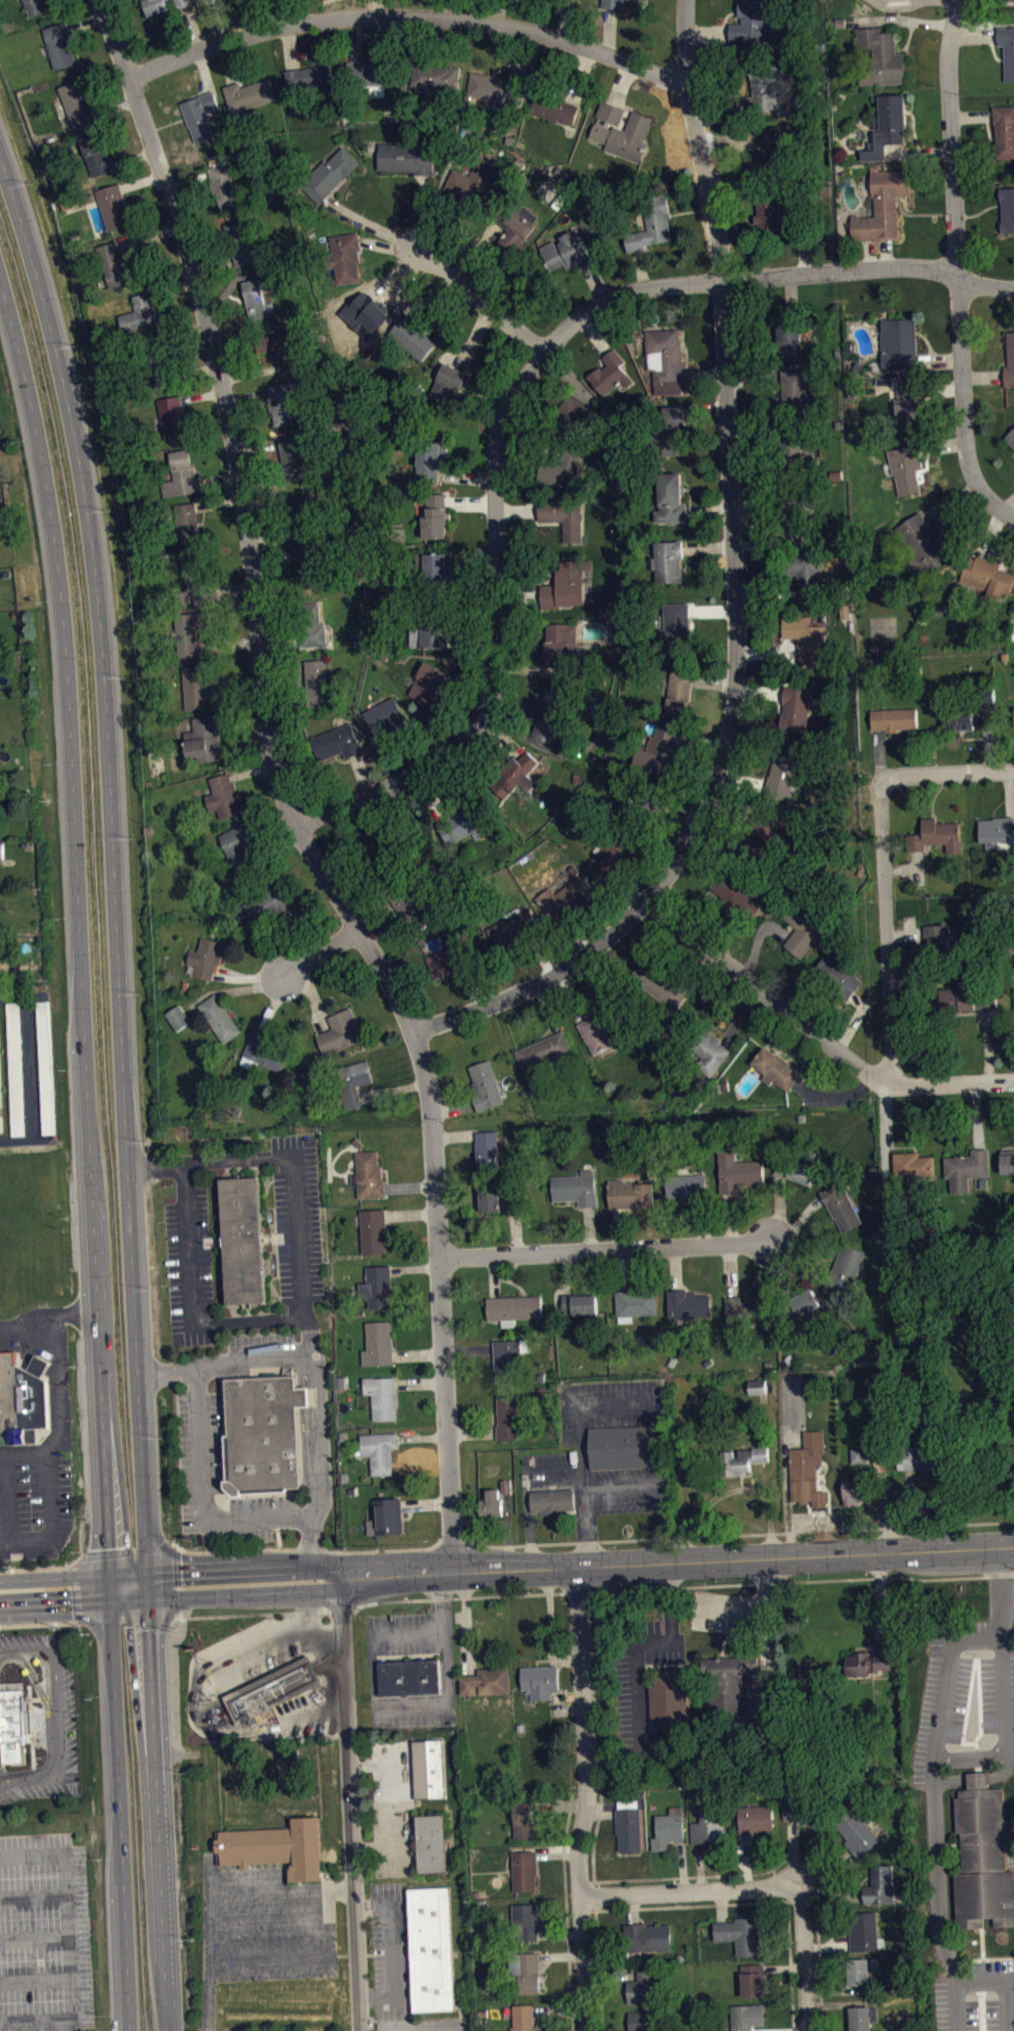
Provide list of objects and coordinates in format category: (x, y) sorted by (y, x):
building: (183, 2)
building: (1012, 3)
building: (612, 4)
building: (36, 6)
building: (155, 6)
road: (406, 15)
building: (752, 22)
building: (60, 44)
building: (1007, 48)
building: (881, 57)
building: (372, 71)
building: (309, 77)
building: (435, 77)
building: (762, 89)
building: (497, 90)
building: (248, 93)
building: (77, 104)
building: (555, 109)
building: (200, 114)
building: (887, 126)
building: (1004, 130)
building: (622, 131)
building: (771, 150)
building: (95, 154)
building: (408, 157)
building: (329, 174)
building: (475, 177)
building: (224, 184)
building: (113, 205)
building: (883, 205)
building: (1007, 209)
building: (778, 216)
building: (651, 223)
building: (514, 226)
building: (241, 242)
building: (565, 251)
building: (344, 255)
road: (957, 258)
building: (116, 265)
road: (477, 292)
building: (257, 300)
building: (139, 313)
building: (787, 337)
building: (413, 338)
building: (898, 342)
building: (277, 346)
building: (665, 359)
building: (1010, 360)
building: (159, 363)
building: (610, 373)
building: (884, 380)
building: (448, 383)
road: (515, 391)
building: (796, 391)
building: (282, 403)
building: (909, 406)
building: (570, 412)
building: (173, 416)
building: (672, 429)
building: (1010, 439)
building: (1010, 445)
building: (797, 455)
building: (296, 456)
road: (728, 458)
building: (430, 459)
building: (908, 466)
building: (557, 467)
building: (180, 474)
building: (671, 498)
building: (436, 511)
road: (1005, 513)
building: (297, 515)
building: (564, 515)
building: (803, 519)
building: (187, 522)
building: (923, 545)
building: (668, 560)
building: (439, 566)
building: (307, 568)
building: (806, 574)
building: (987, 576)
building: (201, 579)
building: (566, 584)
building: (310, 625)
building: (431, 628)
building: (192, 630)
building: (675, 630)
building: (806, 638)
building: (558, 643)
building: (317, 680)
building: (427, 682)
building: (198, 686)
building: (680, 694)
building: (986, 694)
building: (795, 710)
building: (549, 716)
building: (382, 718)
building: (894, 719)
building: (959, 720)
building: (207, 736)
building: (334, 741)
building: (657, 751)
road: (948, 771)
building: (782, 773)
building: (521, 777)
road: (280, 791)
building: (223, 795)
building: (642, 800)
building: (463, 824)
building: (762, 825)
building: (996, 828)
building: (936, 836)
building: (236, 845)
building: (2, 850)
building: (380, 850)
building: (614, 850)
road: (116, 866)
building: (566, 893)
building: (736, 898)
building: (406, 900)
building: (267, 903)
building: (283, 913)
building: (514, 927)
building: (803, 927)
road: (886, 931)
building: (938, 940)
road: (319, 956)
building: (206, 958)
building: (447, 960)
building: (836, 977)
road: (541, 983)
building: (665, 983)
building: (966, 998)
building: (178, 1017)
building: (219, 1017)
building: (604, 1027)
building: (340, 1032)
road: (818, 1033)
building: (265, 1051)
building: (544, 1059)
building: (712, 1059)
parking lot: (30, 1065)
building: (775, 1069)
road: (32, 1071)
building: (48, 1074)
building: (17, 1076)
building: (352, 1081)
building: (485, 1085)
building: (1, 1102)
road: (94, 1150)
building: (487, 1152)
road: (291, 1157)
building: (1007, 1161)
road: (157, 1165)
building: (912, 1165)
building: (800, 1167)
building: (966, 1168)
building: (737, 1172)
building: (370, 1174)
building: (686, 1186)
building: (575, 1188)
building: (629, 1194)
building: (498, 1198)
building: (841, 1205)
building: (510, 1209)
parking lot: (298, 1217)
building: (374, 1230)
building: (243, 1241)
road: (605, 1250)
parking lot: (190, 1267)
building: (845, 1268)
building: (376, 1286)
building: (801, 1302)
building: (579, 1304)
building: (634, 1304)
building: (687, 1304)
building: (513, 1308)
building: (748, 1311)
road: (50, 1317)
building: (377, 1343)
road: (272, 1355)
building: (510, 1358)
building: (757, 1386)
building: (758, 1394)
building: (382, 1396)
building: (21, 1401)
parking lot: (792, 1401)
road: (588, 1403)
parking lot: (609, 1406)
road: (60, 1409)
building: (507, 1415)
building: (265, 1432)
building: (621, 1447)
building: (379, 1450)
building: (1009, 1454)
building: (859, 1455)
building: (919, 1456)
building: (740, 1459)
building: (860, 1462)
road: (785, 1467)
building: (806, 1468)
parking lot: (551, 1470)
parking lot: (219, 1480)
building: (506, 1486)
road: (582, 1488)
road: (622, 1490)
parking lot: (626, 1490)
building: (856, 1490)
road: (203, 1492)
road: (8, 1498)
parking lot: (35, 1499)
building: (551, 1500)
building: (491, 1504)
building: (386, 1516)
road: (49, 1520)
road: (737, 1534)
road: (453, 1537)
road: (310, 1550)
road: (127, 1551)
road: (677, 1560)
road: (248, 1566)
road: (40, 1568)
traffic signals: (151, 1571)
traffic signals: (110, 1574)
road: (75, 1575)
road: (176, 1580)
road: (800, 1580)
road: (76, 1590)
road: (576, 1592)
road: (248, 1594)
road: (457, 1597)
road: (441, 1599)
traffic signals: (153, 1601)
traffic signals: (112, 1603)
road: (76, 1605)
road: (341, 1610)
road: (252, 1613)
road: (127, 1616)
road: (760, 1619)
road: (39, 1622)
parking lot: (402, 1633)
road: (649, 1651)
road: (43, 1661)
building: (867, 1662)
road: (446, 1668)
road: (947, 1670)
road: (371, 1672)
building: (409, 1677)
road: (36, 1679)
building: (540, 1681)
building: (486, 1682)
building: (724, 1683)
building: (272, 1688)
building: (668, 1698)
road: (58, 1710)
parking lot: (412, 1710)
building: (15, 1724)
parking lot: (48, 1725)
road: (970, 1754)
building: (427, 1768)
road: (589, 1798)
road: (350, 1804)
parking lot: (393, 1808)
building: (809, 1814)
road: (162, 1816)
building: (526, 1820)
building: (755, 1820)
building: (628, 1825)
building: (709, 1825)
building: (668, 1829)
building: (857, 1833)
building: (645, 1835)
building: (431, 1843)
building: (277, 1846)
building: (982, 1856)
building: (525, 1870)
road: (761, 1872)
building: (880, 1885)
road: (691, 1892)
road: (32, 1896)
road: (695, 1905)
road: (566, 1911)
building: (525, 1922)
parking lot: (271, 1925)
building: (863, 1930)
parking lot: (44, 1934)
building: (741, 1934)
building: (647, 1936)
road: (33, 1937)
road: (67, 1939)
road: (209, 1943)
road: (392, 1948)
building: (430, 1949)
parking lot: (390, 1950)
road: (803, 1959)
building: (858, 1971)
building: (526, 1972)
road: (34, 1978)
building: (752, 1979)
building: (645, 1987)
parking lot: (975, 1995)
building: (746, 2016)
building: (862, 2017)
building: (524, 2018)
building: (647, 2020)

